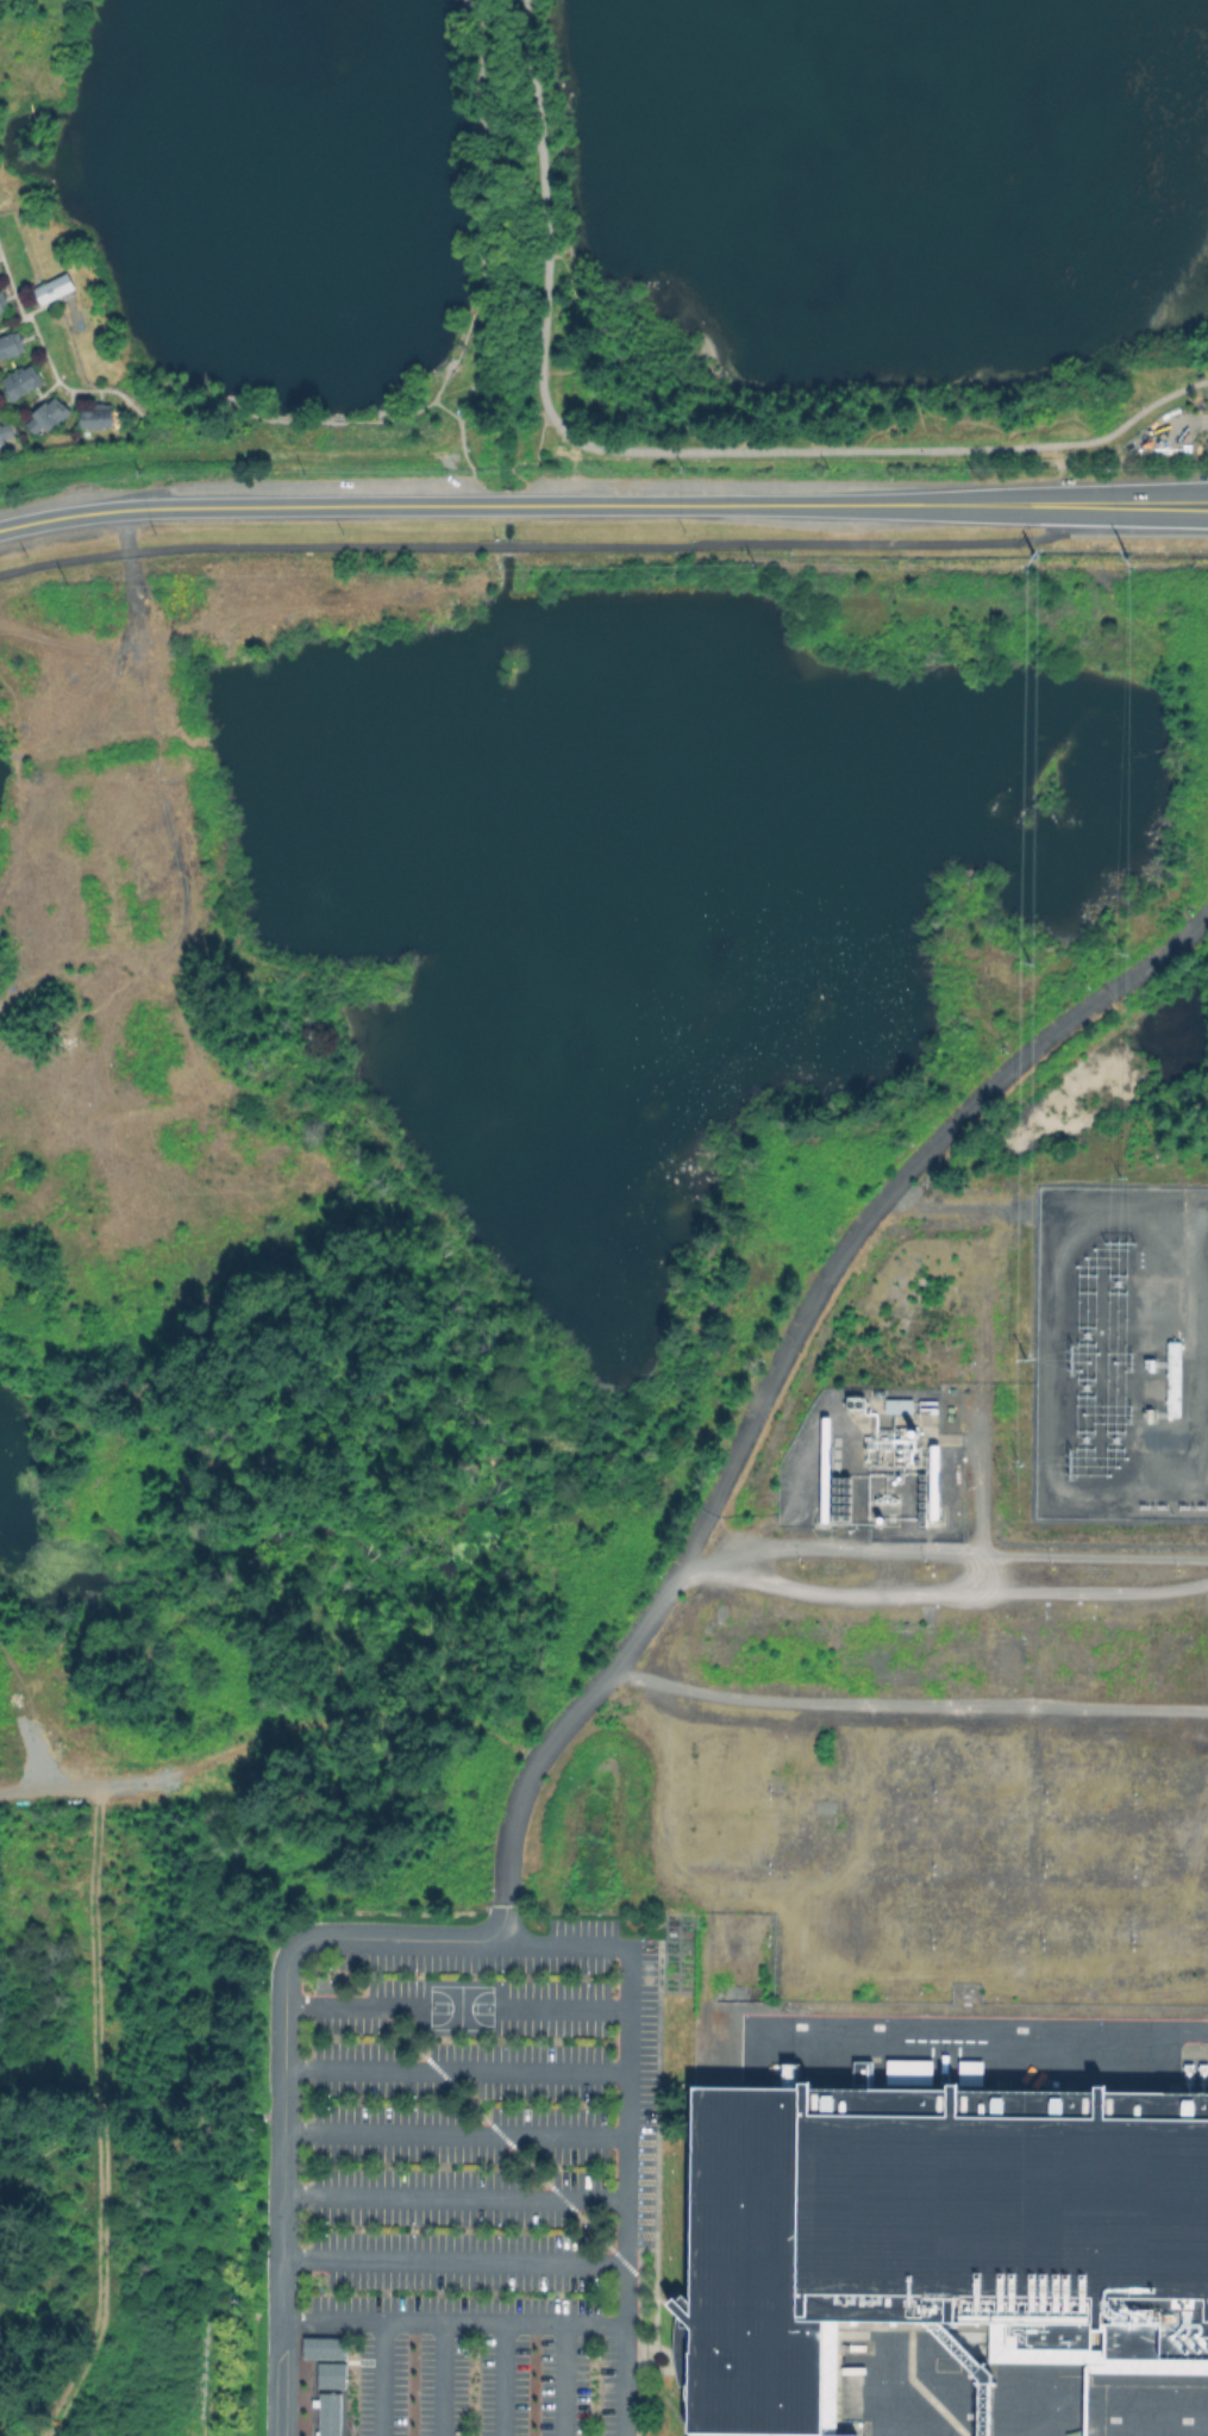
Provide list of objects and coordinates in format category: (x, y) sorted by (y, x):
park: (674, 223)
road: (480, 262)
road: (10, 287)
building: (51, 288)
building: (1, 300)
building: (8, 343)
building: (18, 380)
road: (57, 380)
building: (44, 414)
building: (94, 416)
building: (4, 430)
building: (0, 441)
road: (671, 451)
road: (537, 454)
road: (602, 506)
road: (124, 531)
road: (542, 548)
power substation: (1122, 1353)
road: (772, 1373)
building: (901, 1408)
road: (941, 1591)
road: (906, 1712)
road: (993, 2028)
road: (284, 2098)
road: (655, 2116)
road: (488, 2119)
road: (627, 2120)
building: (937, 2237)
road: (636, 2250)
road: (665, 2294)
road: (636, 2313)
road: (455, 2321)
road: (653, 2329)
building: (325, 2348)
building: (332, 2375)
road: (634, 2386)
building: (330, 2415)
building: (978, 2434)
building: (1085, 2435)

